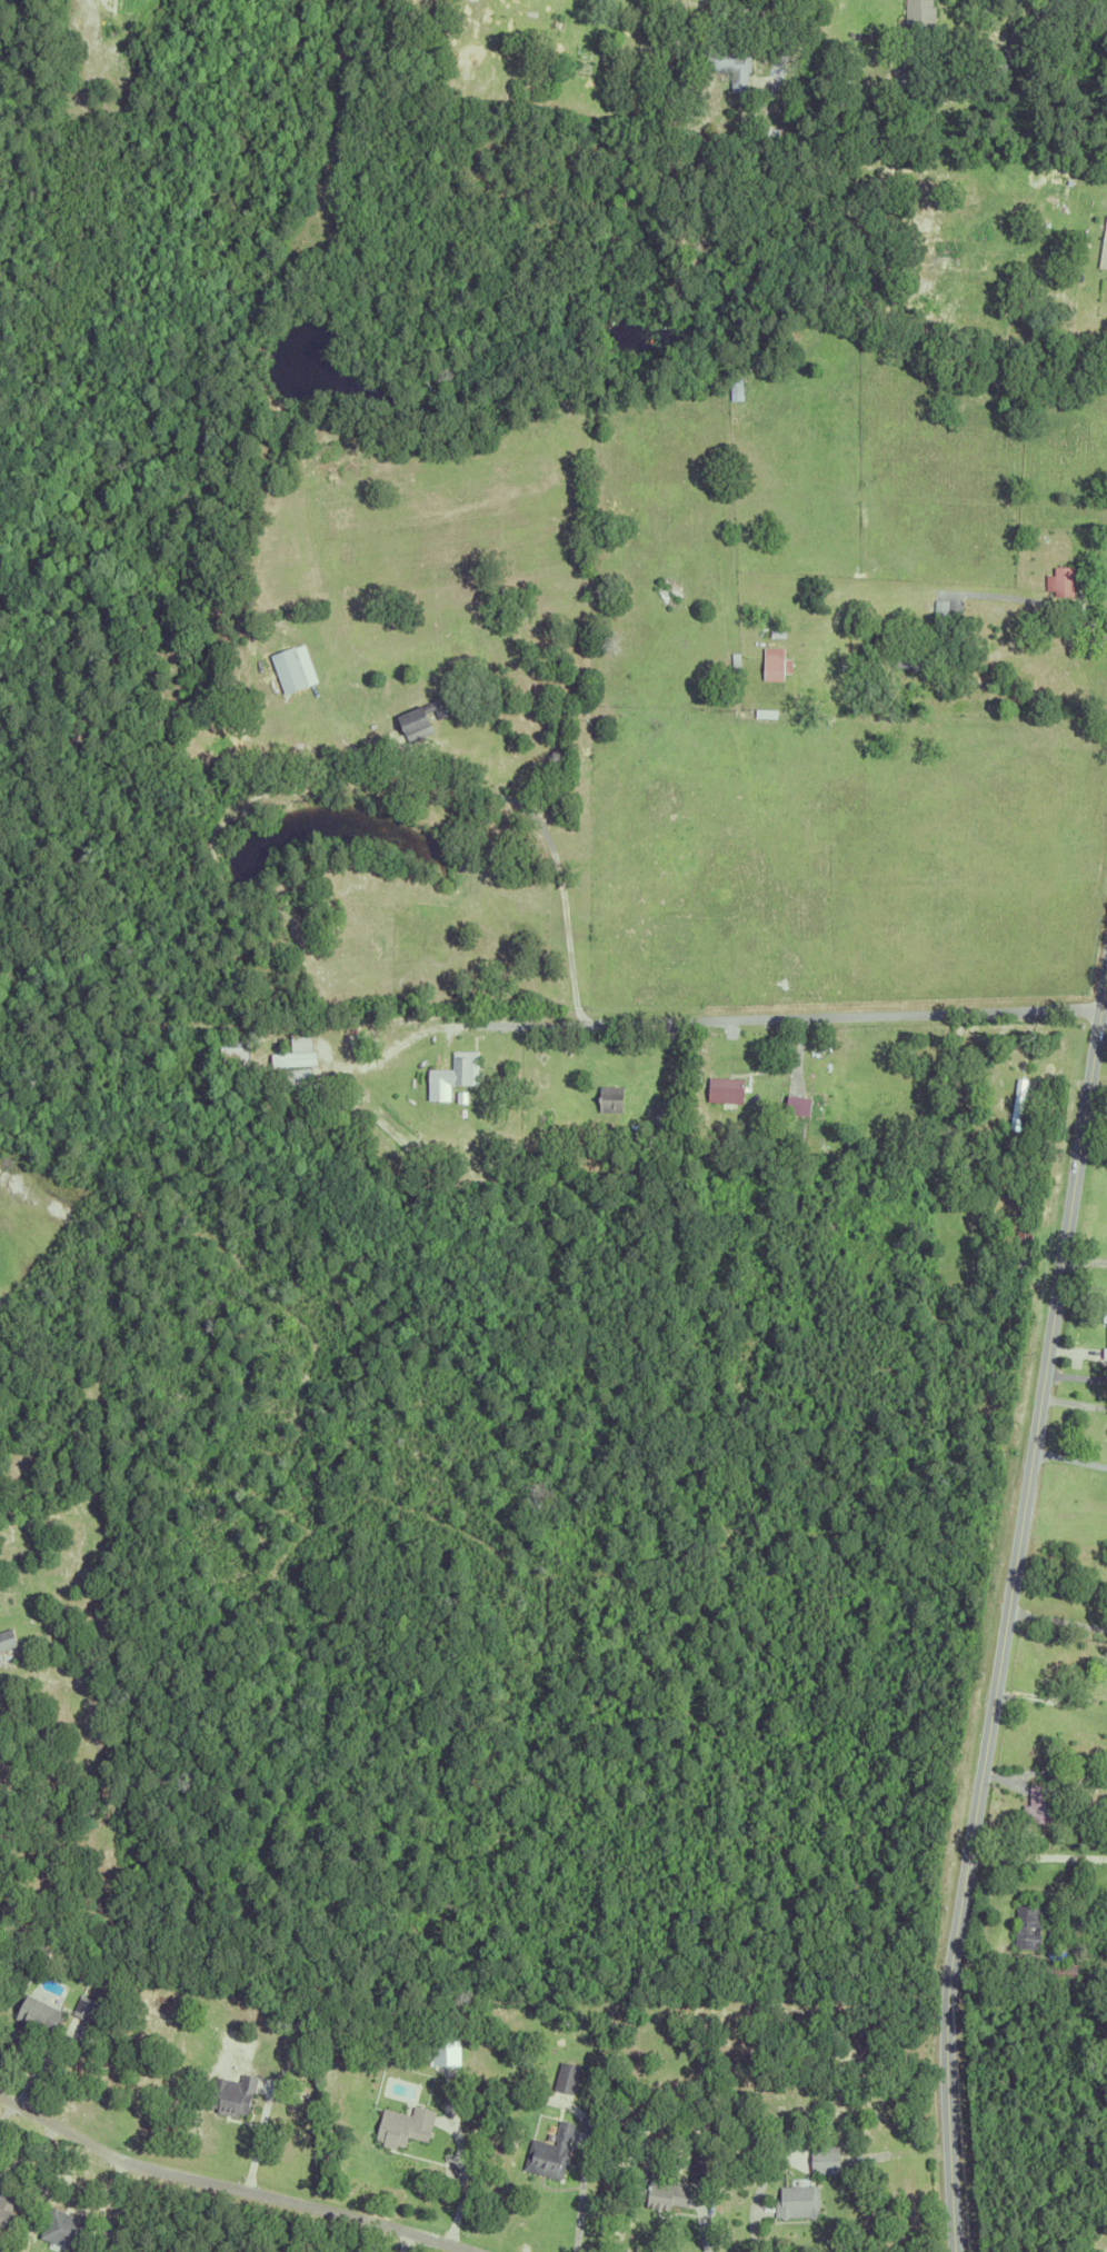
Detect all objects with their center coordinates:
road: (669, 13)
building: (914, 18)
road: (1070, 21)
building: (862, 33)
building: (685, 60)
building: (672, 61)
building: (724, 61)
building: (839, 73)
road: (987, 87)
building: (1085, 163)
building: (1103, 242)
building: (1019, 313)
building: (1058, 578)
road: (960, 595)
building: (775, 630)
building: (732, 658)
building: (772, 661)
building: (287, 667)
building: (762, 711)
building: (421, 715)
road: (558, 891)
road: (1104, 1012)
road: (804, 1019)
road: (426, 1029)
building: (292, 1040)
building: (295, 1056)
building: (455, 1068)
building: (297, 1076)
building: (722, 1088)
building: (353, 1092)
building: (608, 1097)
building: (1016, 1103)
building: (796, 1104)
building: (367, 1105)
building: (591, 1123)
building: (779, 1132)
building: (582, 1150)
building: (980, 1223)
building: (1018, 1253)
building: (1104, 1333)
road: (1074, 1402)
road: (1070, 1457)
road: (1009, 1611)
road: (1058, 1621)
building: (9, 1640)
building: (6, 1660)
road: (1051, 1698)
building: (1037, 1806)
building: (1093, 1826)
building: (1026, 1927)
building: (1050, 1930)
building: (1058, 1972)
building: (82, 2007)
building: (43, 2015)
building: (295, 2023)
building: (443, 2053)
building: (566, 2079)
building: (240, 2096)
building: (402, 2126)
building: (548, 2153)
building: (824, 2160)
building: (700, 2169)
road: (232, 2189)
road: (460, 2189)
building: (661, 2195)
building: (796, 2202)
building: (6, 2204)
building: (64, 2231)

